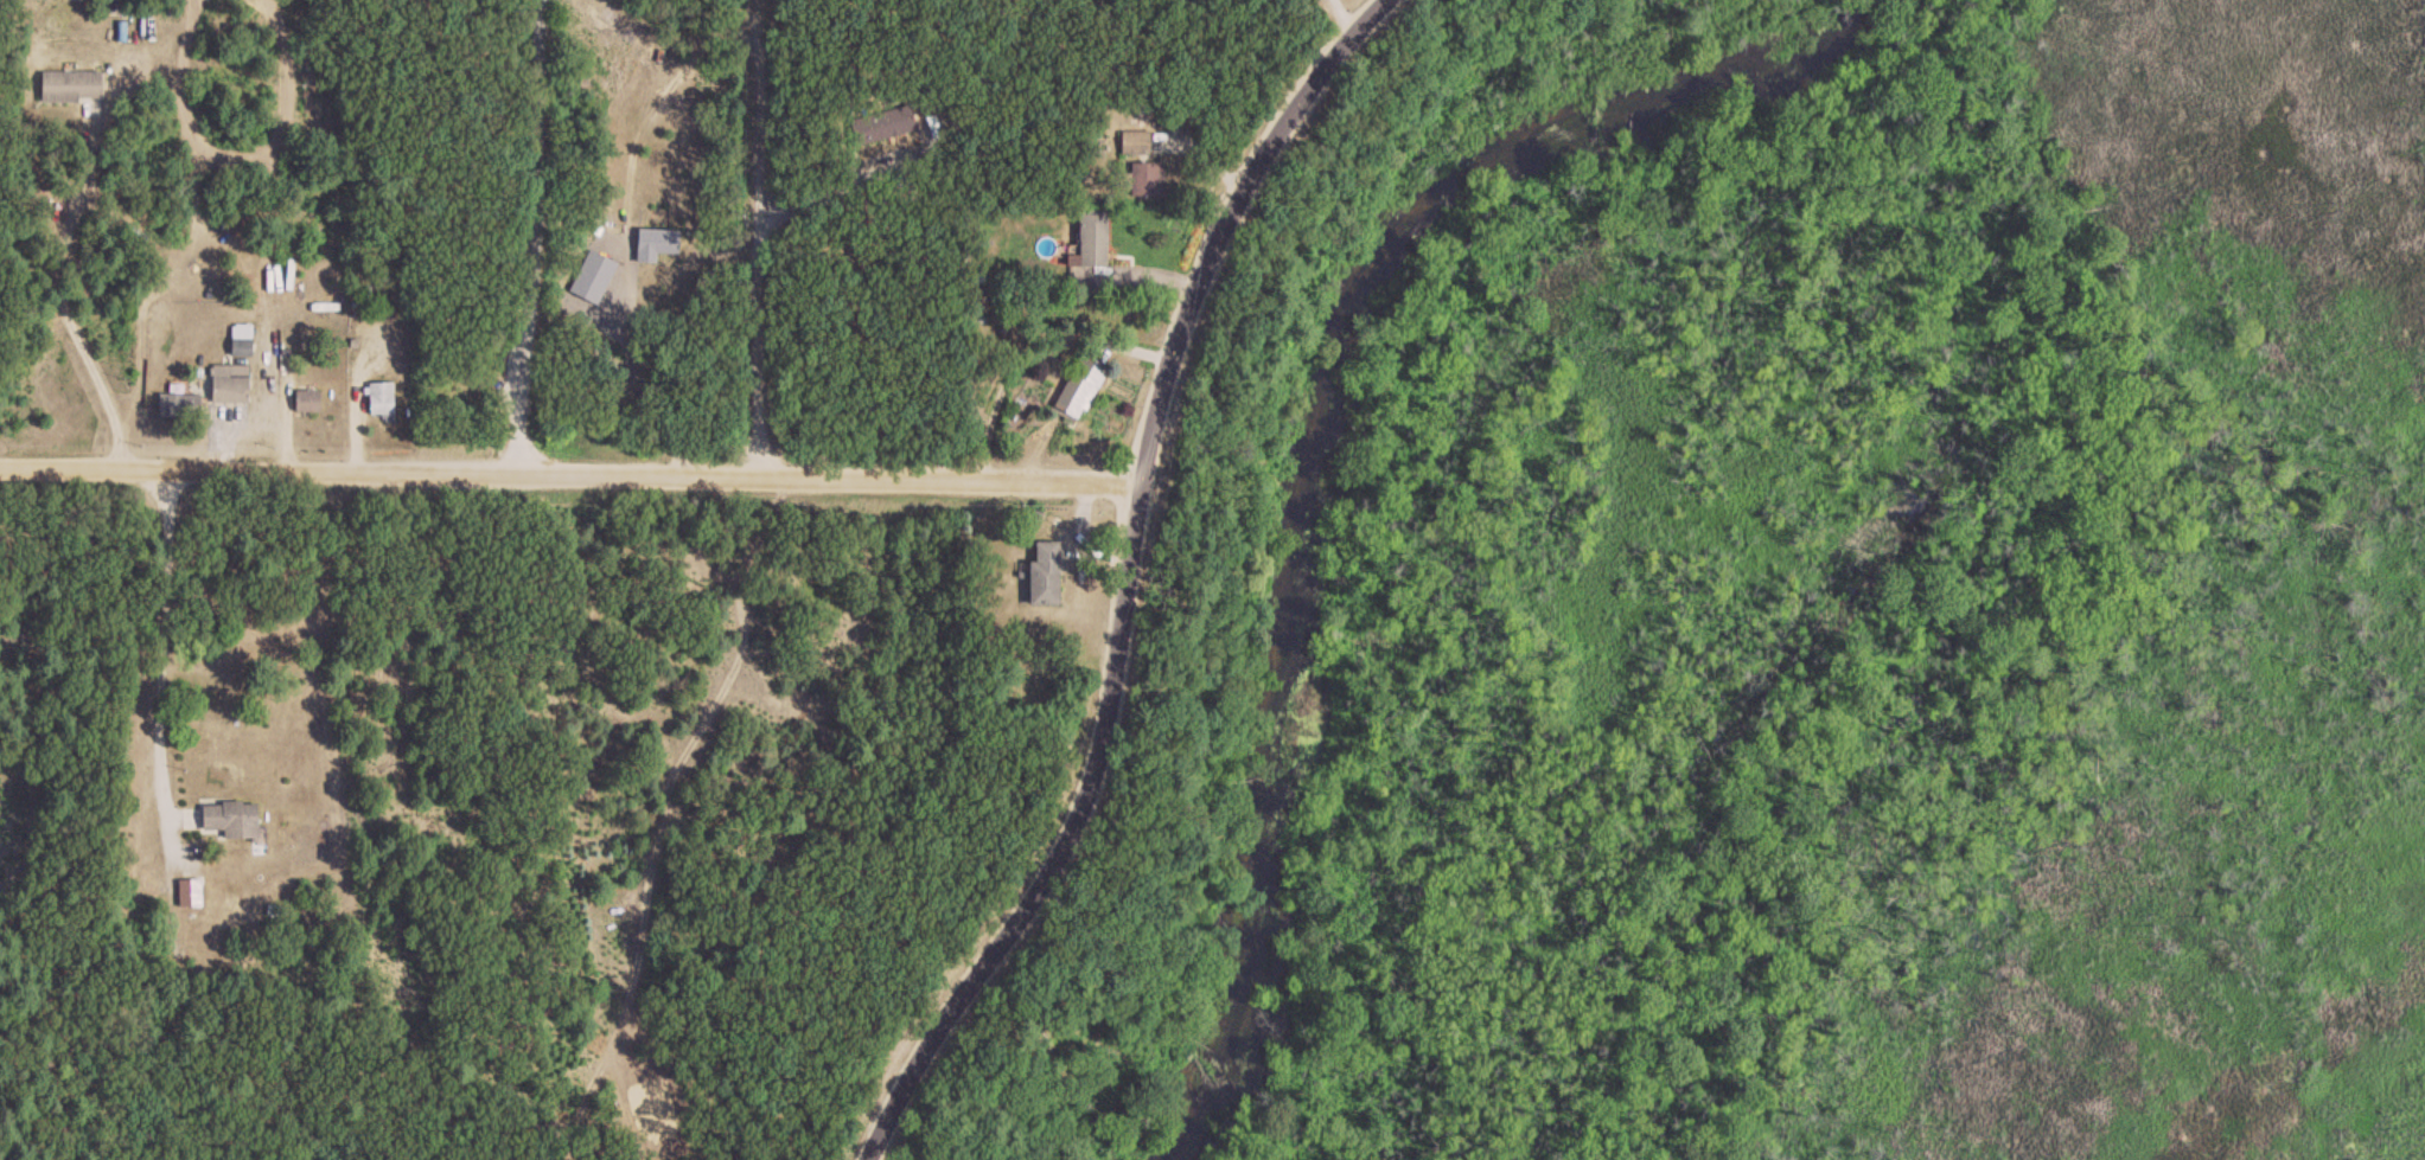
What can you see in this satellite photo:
building: (75, 85)
building: (930, 102)
building: (886, 126)
building: (1137, 142)
building: (1150, 179)
road: (835, 187)
road: (527, 237)
road: (757, 238)
building: (1097, 238)
building: (662, 239)
road: (65, 300)
building: (613, 329)
building: (244, 340)
road: (633, 377)
building: (234, 384)
building: (1084, 386)
building: (383, 399)
building: (311, 402)
building: (183, 406)
road: (567, 475)
building: (1049, 575)
road: (1119, 588)
road: (162, 643)
building: (235, 819)
building: (192, 892)

